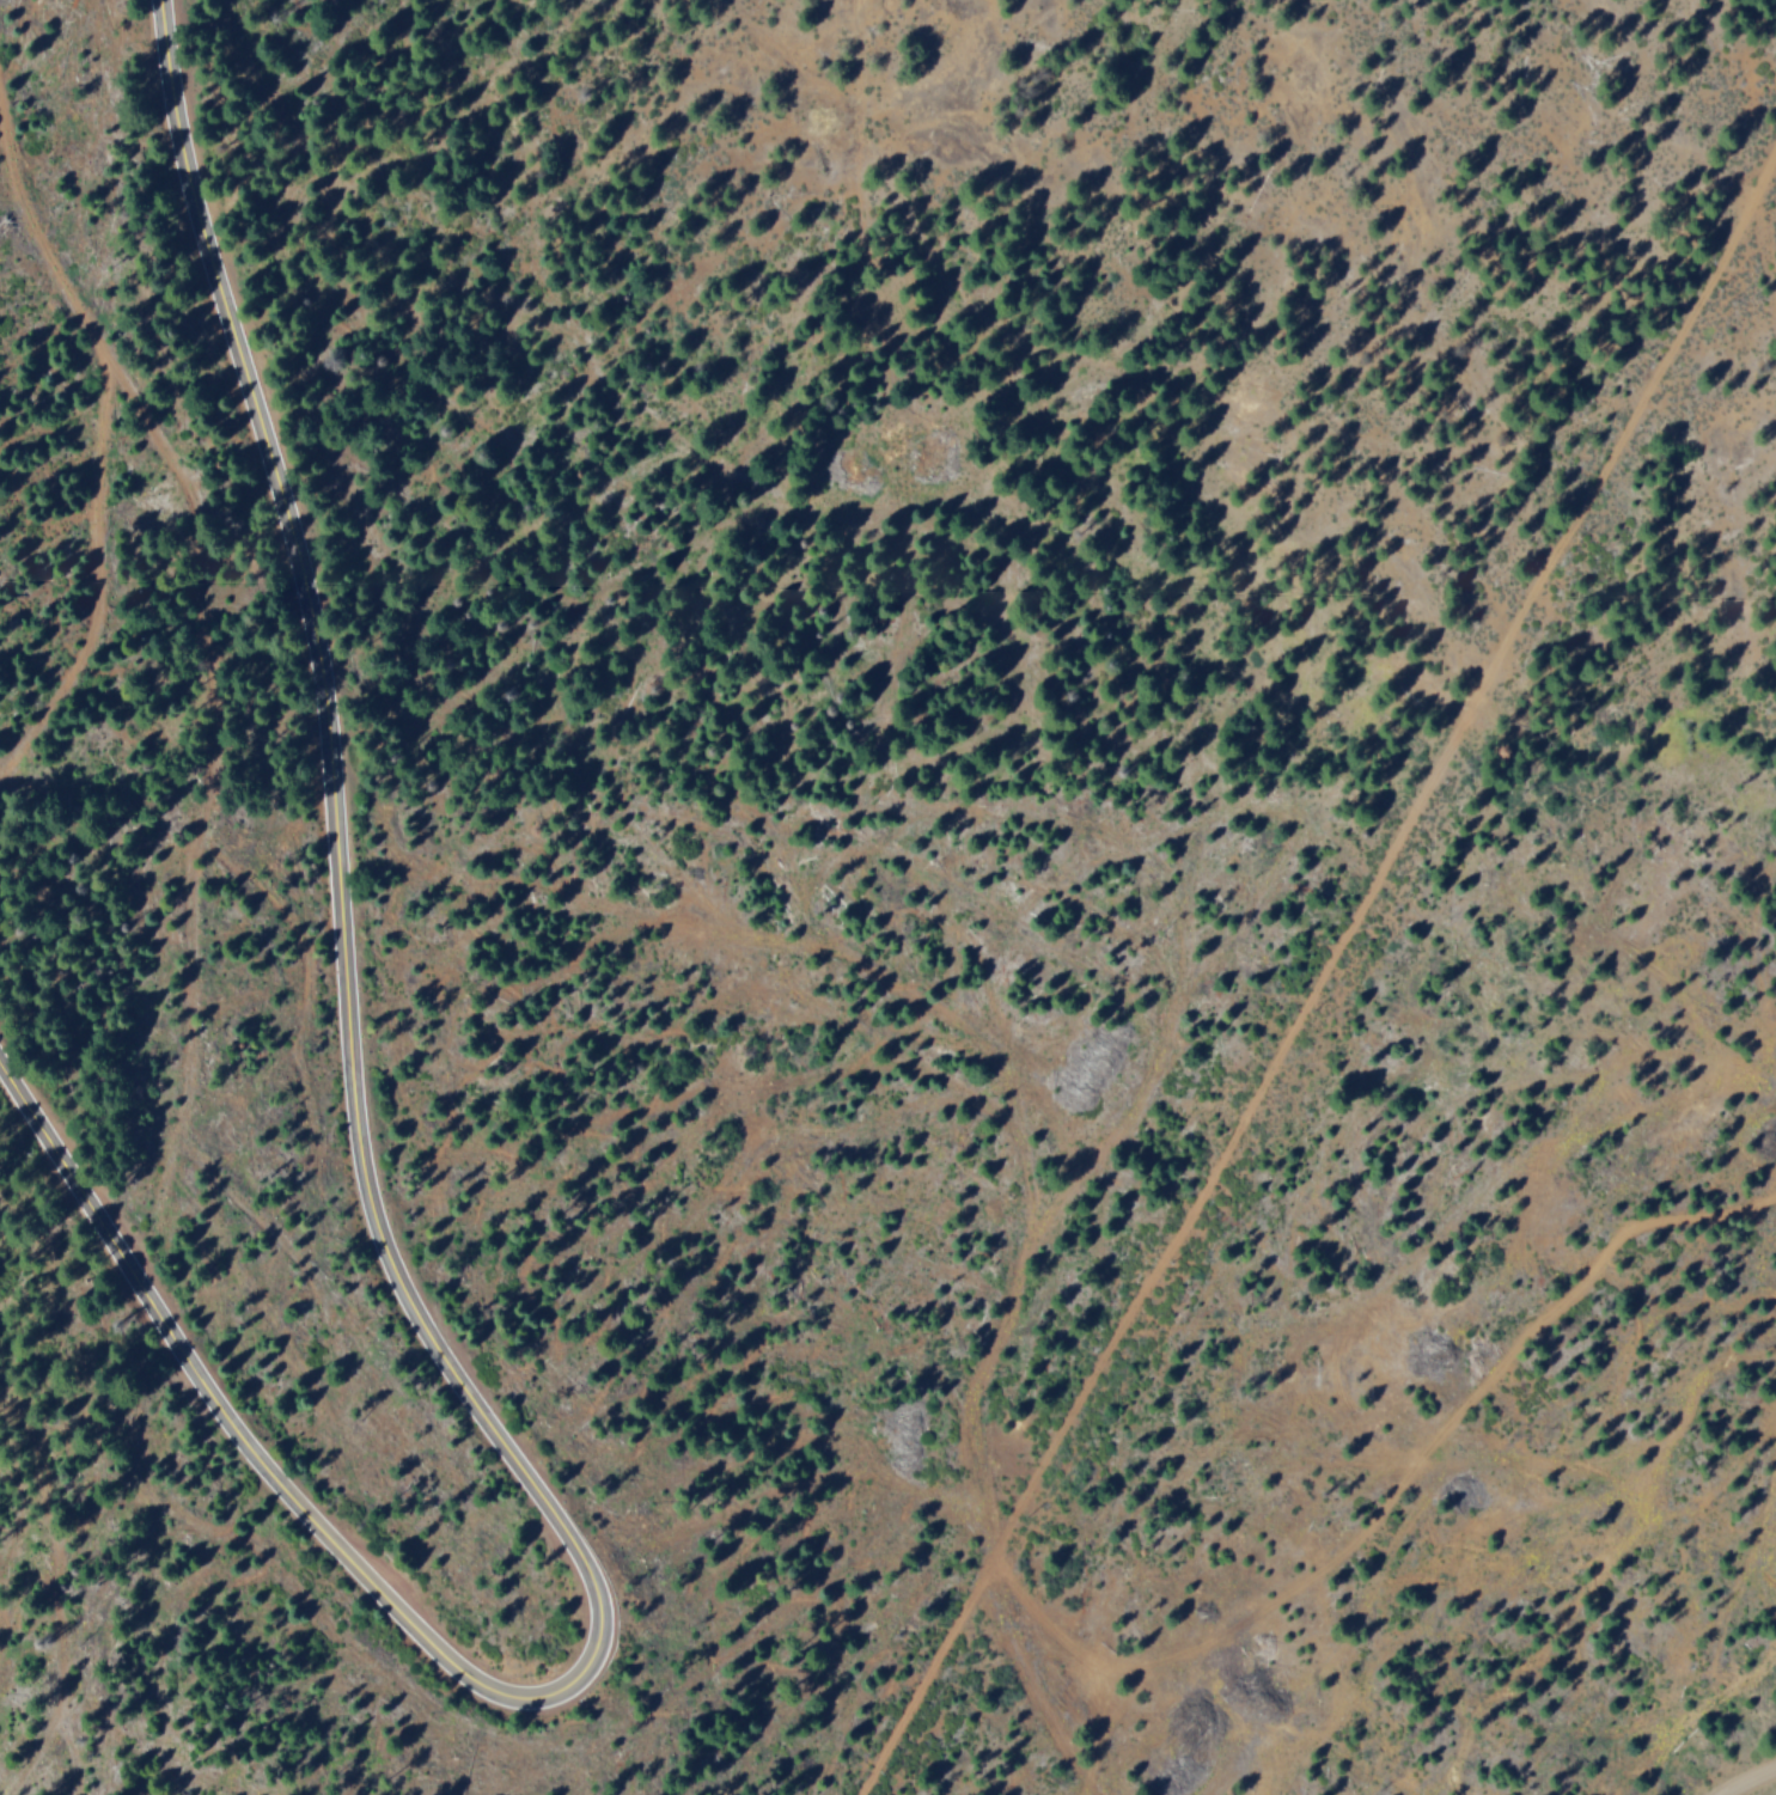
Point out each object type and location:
road: (416, 1301)
road: (1744, 1778)

